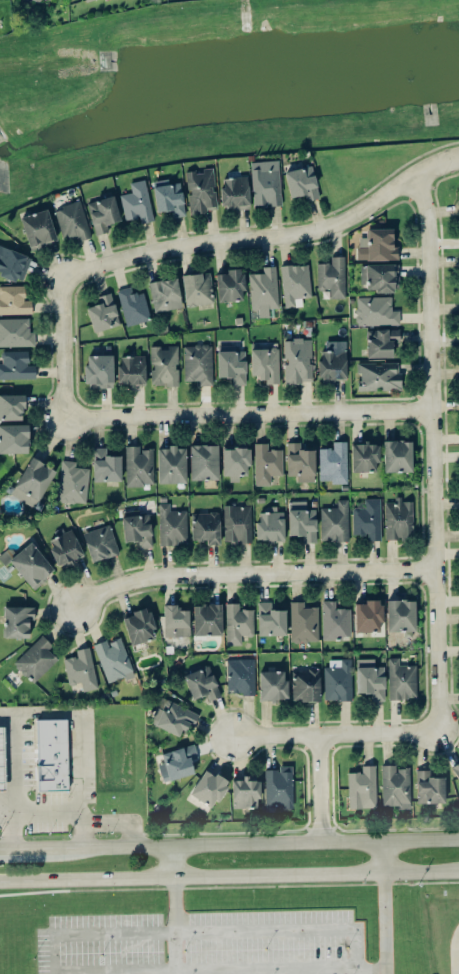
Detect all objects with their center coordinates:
building: (38, 0)
building: (83, 0)
river: (225, 89)
building: (266, 182)
building: (302, 182)
road: (436, 182)
building: (201, 190)
building: (458, 190)
building: (235, 192)
building: (168, 197)
building: (137, 201)
building: (103, 213)
building: (72, 221)
building: (38, 228)
road: (269, 238)
building: (377, 245)
building: (13, 263)
building: (332, 276)
building: (378, 277)
building: (295, 283)
building: (230, 285)
building: (197, 288)
building: (264, 290)
building: (165, 294)
building: (14, 300)
building: (133, 306)
building: (376, 311)
building: (103, 313)
building: (16, 332)
building: (381, 341)
road: (64, 348)
building: (297, 360)
building: (333, 360)
building: (264, 362)
building: (198, 363)
building: (231, 363)
building: (16, 365)
building: (164, 365)
building: (131, 369)
building: (99, 371)
building: (378, 375)
building: (11, 406)
road: (253, 414)
building: (13, 438)
road: (435, 449)
building: (397, 455)
building: (364, 456)
building: (235, 460)
building: (203, 461)
building: (300, 462)
building: (333, 462)
building: (266, 463)
building: (171, 464)
building: (105, 465)
building: (139, 465)
building: (32, 481)
building: (73, 482)
building: (367, 519)
building: (398, 519)
building: (302, 521)
building: (334, 521)
building: (237, 523)
building: (172, 525)
building: (270, 525)
building: (137, 527)
building: (206, 527)
building: (100, 542)
building: (65, 547)
building: (28, 563)
road: (252, 571)
building: (400, 615)
building: (368, 616)
building: (207, 619)
building: (270, 619)
building: (17, 620)
building: (335, 620)
building: (175, 621)
building: (303, 622)
building: (238, 623)
building: (138, 625)
building: (36, 659)
building: (113, 659)
building: (81, 669)
building: (240, 675)
building: (370, 678)
building: (401, 679)
building: (338, 681)
building: (201, 683)
building: (272, 684)
building: (305, 685)
building: (174, 717)
road: (338, 732)
road: (80, 742)
building: (52, 754)
building: (2, 759)
road: (15, 761)
building: (177, 762)
building: (456, 769)
road: (321, 786)
building: (395, 786)
building: (278, 787)
building: (428, 787)
building: (208, 788)
building: (362, 788)
building: (245, 791)
road: (50, 807)
road: (17, 820)
road: (262, 841)
road: (32, 848)
road: (383, 856)
road: (172, 861)
road: (229, 875)
road: (174, 902)
road: (384, 920)
road: (287, 927)
road: (176, 950)
road: (48, 951)
road: (457, 954)
road: (371, 968)
road: (358, 971)
road: (385, 971)

